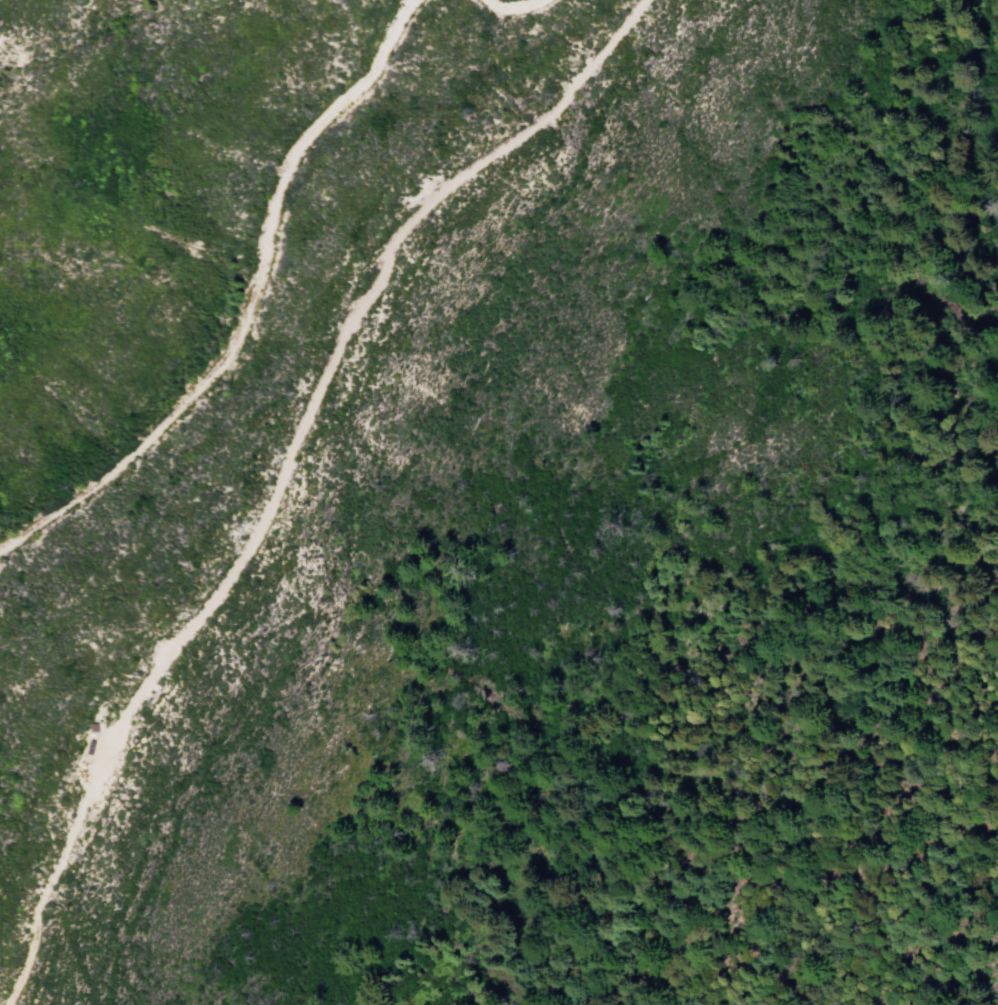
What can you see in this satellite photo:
road: (510, 10)
road: (247, 302)
road: (284, 471)

